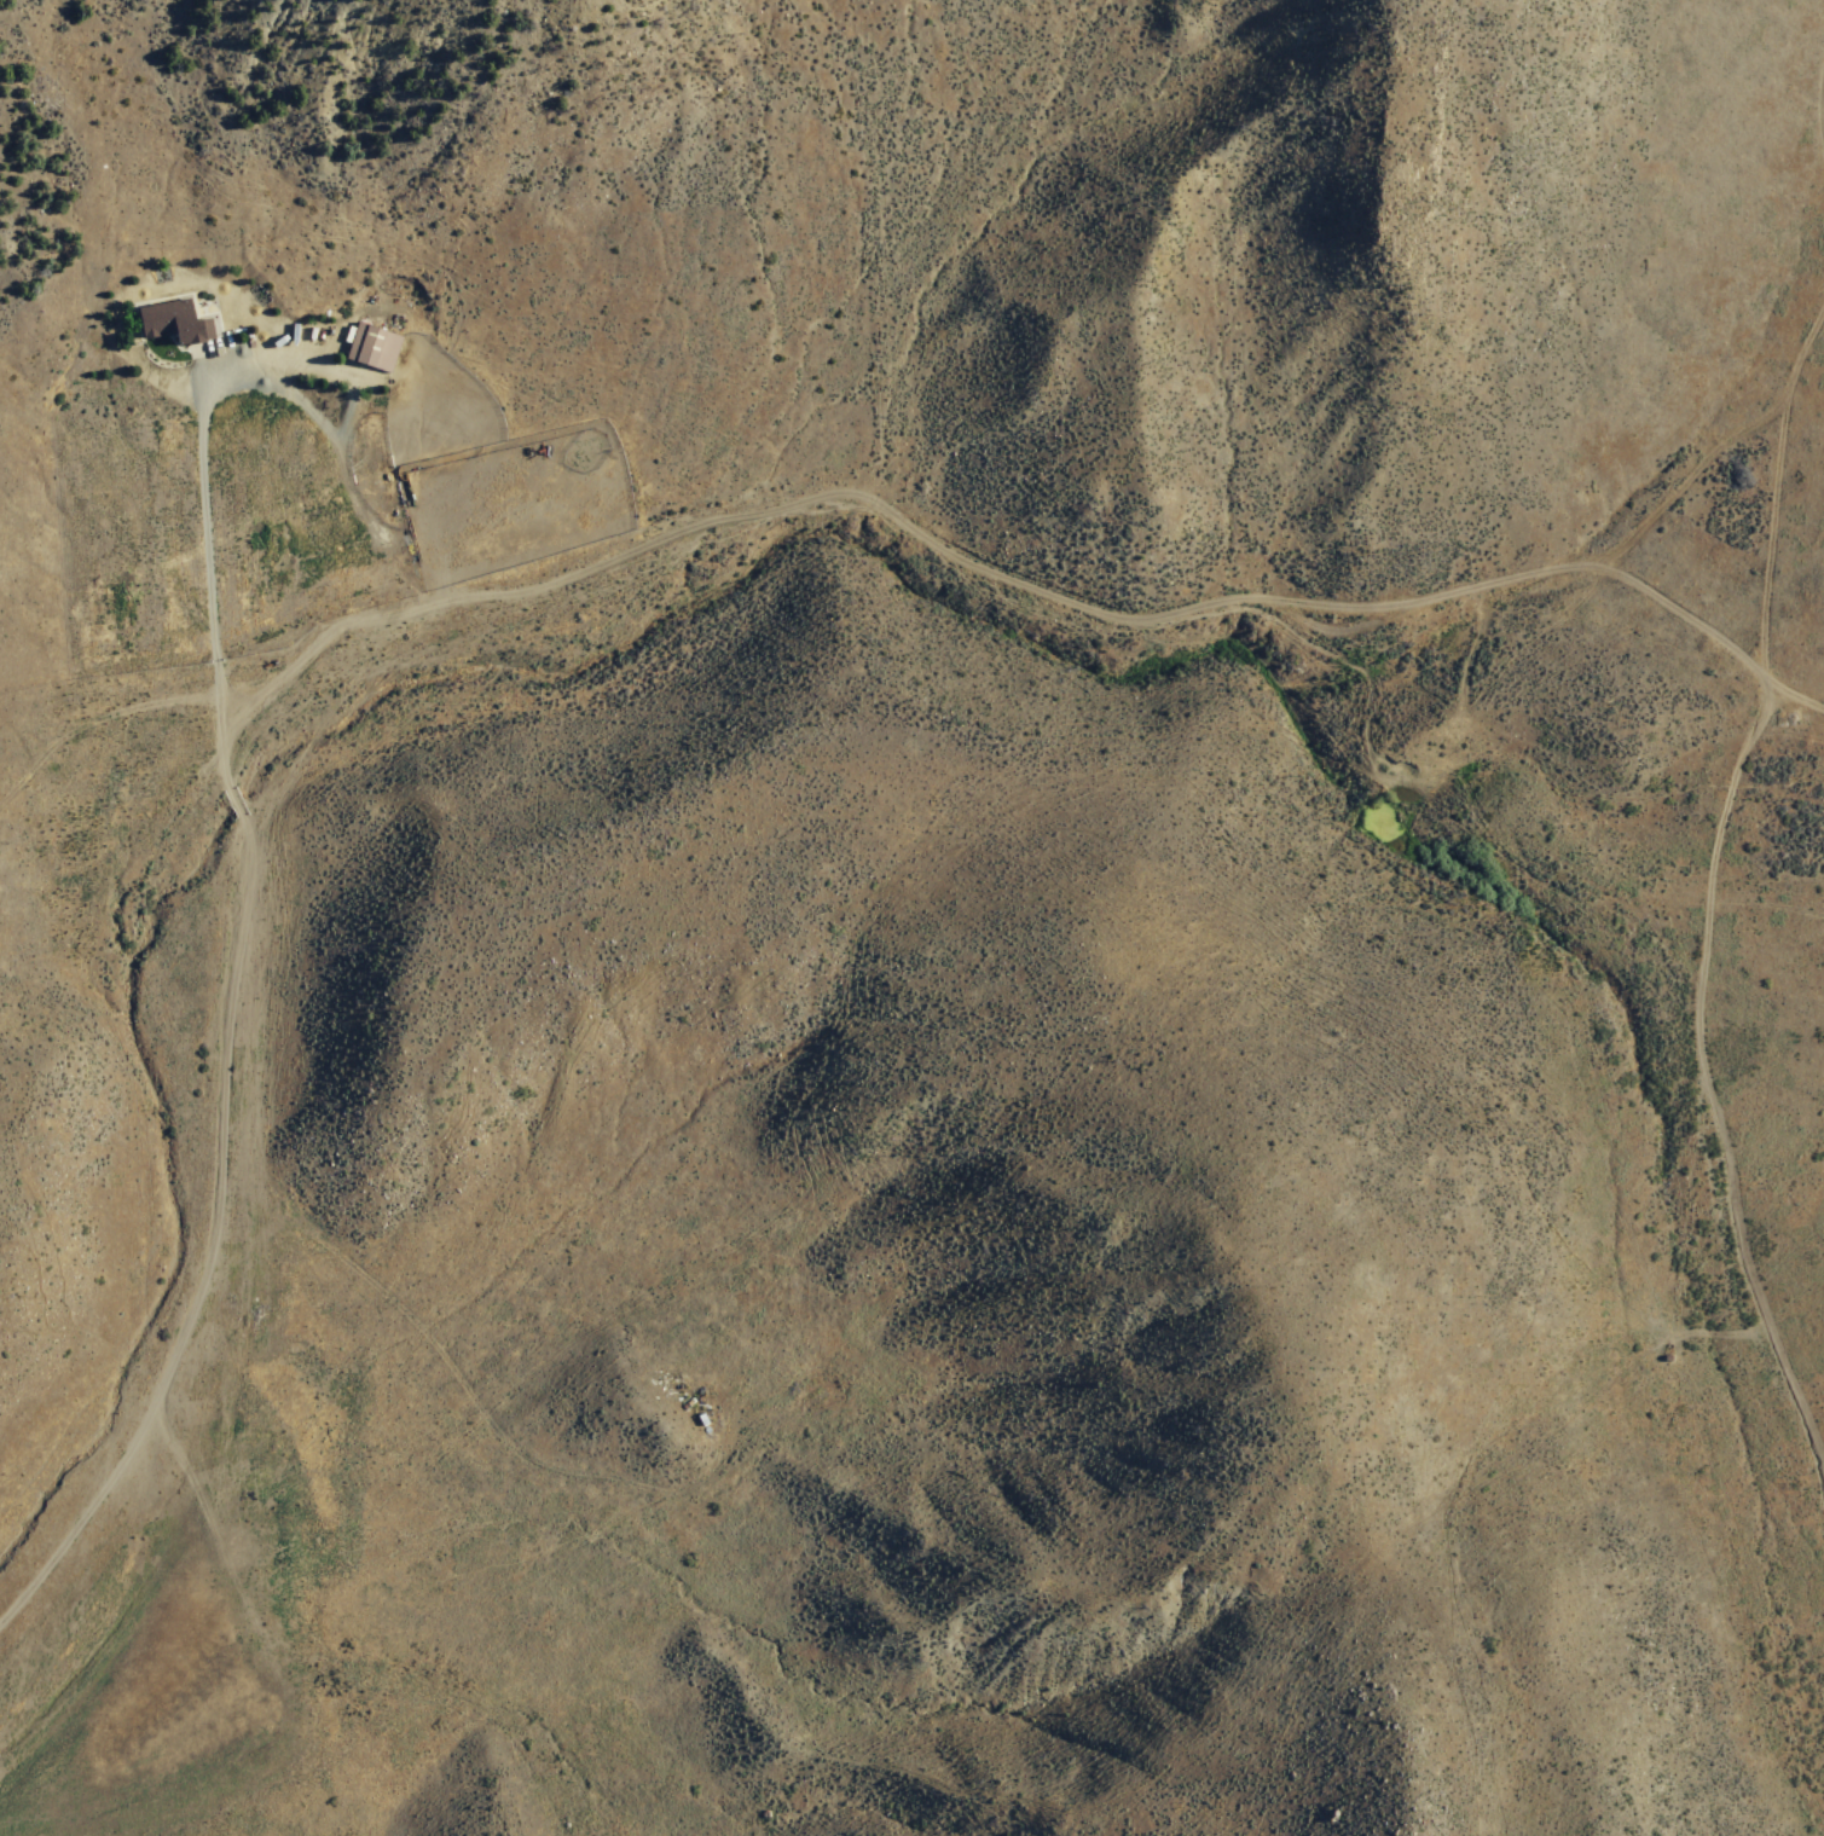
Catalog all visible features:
building: (174, 322)
road: (205, 562)
road: (543, 589)
road: (1710, 630)
road: (112, 712)
crop: (1577, 913)
road: (1716, 929)
crop: (342, 1548)

